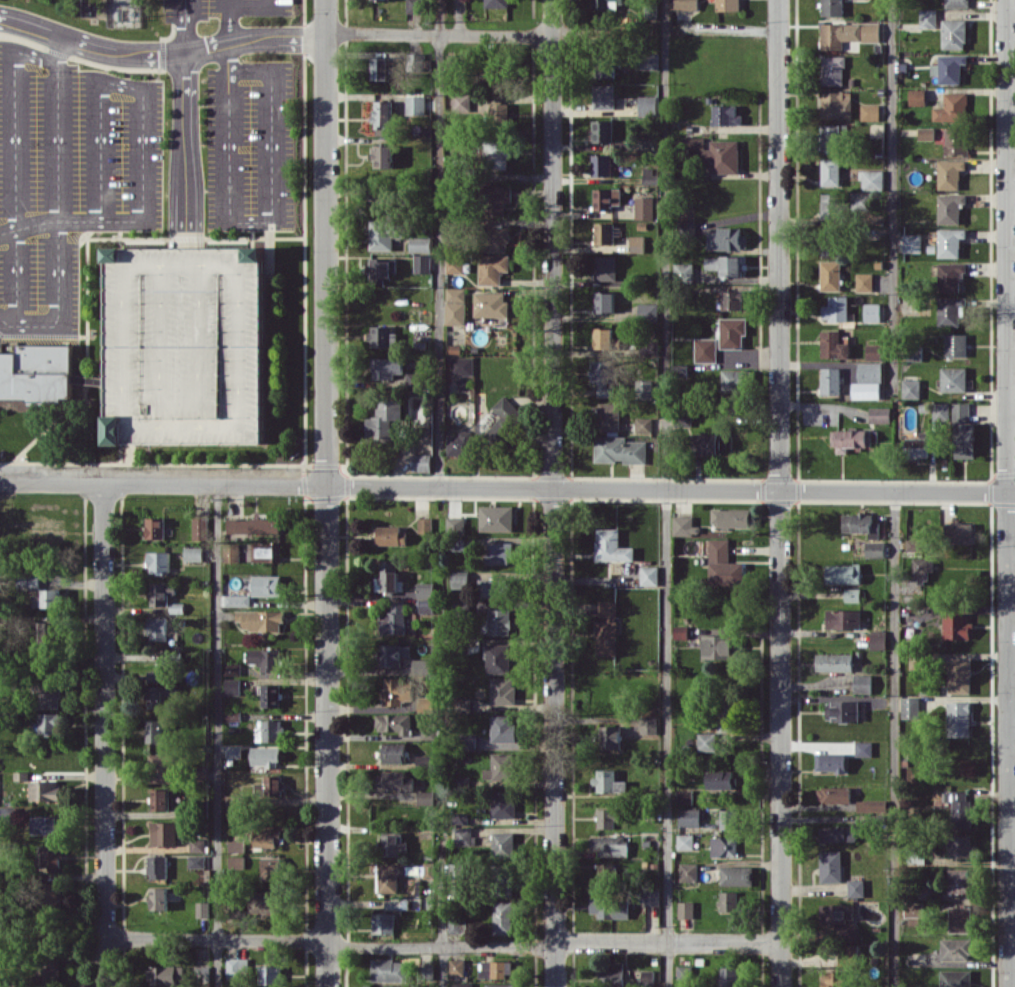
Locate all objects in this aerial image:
building: (496, 3)
building: (956, 3)
building: (606, 4)
building: (686, 4)
building: (727, 5)
road: (253, 6)
building: (414, 6)
building: (832, 7)
parking lot: (223, 8)
building: (928, 17)
road: (229, 21)
road: (185, 26)
building: (870, 32)
building: (953, 33)
road: (438, 34)
building: (840, 36)
road: (160, 53)
building: (646, 60)
road: (107, 66)
building: (604, 66)
building: (379, 68)
building: (949, 68)
building: (832, 69)
building: (495, 74)
road: (117, 83)
building: (603, 96)
building: (917, 96)
road: (195, 103)
building: (415, 104)
building: (461, 104)
building: (836, 104)
building: (647, 105)
building: (952, 107)
building: (498, 112)
building: (870, 112)
building: (382, 114)
building: (725, 114)
building: (602, 130)
building: (926, 133)
building: (831, 137)
building: (646, 140)
building: (955, 140)
building: (693, 142)
parking lot: (249, 144)
road: (186, 150)
building: (500, 153)
building: (383, 156)
building: (723, 156)
road: (14, 161)
building: (601, 165)
building: (830, 171)
building: (949, 173)
parking lot: (67, 176)
building: (650, 176)
road: (58, 179)
building: (872, 179)
road: (893, 196)
building: (498, 198)
building: (606, 198)
building: (381, 199)
building: (830, 205)
building: (644, 207)
building: (949, 207)
road: (70, 221)
road: (257, 221)
building: (604, 233)
building: (381, 234)
road: (118, 235)
road: (251, 235)
building: (496, 237)
road: (195, 238)
building: (727, 238)
road: (439, 242)
building: (829, 242)
building: (950, 242)
building: (636, 243)
building: (912, 243)
building: (420, 244)
building: (422, 263)
building: (454, 263)
building: (726, 264)
building: (605, 267)
building: (492, 268)
building: (382, 269)
building: (683, 270)
building: (830, 275)
building: (950, 276)
building: (864, 281)
building: (455, 293)
building: (732, 299)
building: (604, 301)
building: (490, 304)
building: (836, 308)
building: (950, 310)
building: (647, 311)
building: (455, 312)
building: (872, 312)
road: (3, 320)
road: (32, 323)
building: (732, 332)
road: (43, 335)
building: (382, 336)
building: (603, 337)
building: (955, 344)
building: (833, 345)
building: (182, 346)
parking lot: (182, 346)
road: (87, 348)
building: (651, 348)
building: (705, 350)
building: (874, 352)
building: (462, 365)
building: (386, 367)
building: (680, 371)
building: (869, 371)
building: (40, 374)
building: (603, 377)
building: (412, 379)
building: (953, 379)
building: (734, 380)
building: (830, 380)
building: (911, 388)
building: (643, 389)
building: (866, 390)
building: (416, 405)
building: (939, 411)
building: (880, 414)
building: (608, 416)
building: (383, 418)
building: (503, 420)
building: (644, 424)
building: (963, 431)
road: (37, 435)
building: (850, 439)
building: (460, 443)
building: (713, 443)
building: (918, 447)
building: (620, 449)
road: (119, 453)
road: (152, 462)
building: (421, 462)
road: (1, 479)
road: (507, 487)
road: (326, 493)
road: (553, 493)
road: (667, 493)
road: (780, 493)
road: (1008, 493)
building: (496, 517)
building: (730, 517)
building: (6, 518)
building: (861, 524)
building: (254, 525)
building: (425, 525)
building: (455, 525)
building: (684, 525)
building: (155, 527)
building: (199, 528)
building: (46, 530)
building: (958, 532)
building: (390, 535)
building: (914, 544)
building: (611, 546)
building: (875, 549)
building: (266, 551)
building: (500, 552)
building: (193, 553)
building: (159, 561)
building: (723, 564)
building: (921, 568)
building: (843, 573)
building: (649, 575)
building: (388, 577)
building: (459, 580)
building: (31, 581)
building: (266, 585)
building: (491, 587)
building: (425, 590)
building: (161, 593)
building: (852, 594)
building: (47, 598)
building: (241, 600)
building: (425, 605)
building: (260, 619)
building: (844, 619)
building: (393, 620)
building: (499, 621)
building: (956, 625)
building: (158, 628)
building: (607, 628)
building: (49, 632)
building: (680, 632)
building: (718, 646)
building: (392, 654)
building: (265, 658)
building: (497, 658)
building: (834, 662)
building: (421, 665)
building: (232, 669)
building: (155, 675)
building: (959, 675)
building: (862, 683)
building: (232, 686)
building: (502, 690)
building: (396, 691)
building: (49, 694)
building: (269, 694)
building: (156, 696)
building: (910, 707)
building: (842, 711)
building: (726, 716)
building: (959, 718)
building: (394, 722)
building: (48, 723)
building: (648, 724)
building: (503, 728)
building: (155, 730)
building: (269, 730)
building: (428, 733)
road: (104, 735)
road: (217, 735)
building: (610, 736)
road: (894, 739)
building: (469, 741)
building: (706, 741)
building: (863, 748)
building: (233, 751)
building: (393, 752)
building: (265, 756)
building: (830, 761)
building: (161, 767)
building: (500, 767)
building: (720, 779)
building: (395, 780)
building: (608, 781)
building: (270, 785)
building: (44, 790)
building: (833, 794)
building: (684, 796)
building: (425, 797)
building: (160, 799)
building: (231, 804)
building: (503, 804)
building: (872, 805)
building: (959, 808)
building: (689, 817)
building: (606, 818)
building: (728, 819)
building: (44, 824)
building: (163, 833)
building: (837, 833)
building: (463, 836)
building: (267, 838)
building: (685, 841)
building: (197, 844)
building: (503, 844)
building: (393, 845)
building: (609, 845)
building: (960, 845)
building: (236, 846)
building: (724, 846)
building: (51, 856)
building: (196, 861)
building: (236, 861)
building: (831, 866)
building: (157, 867)
building: (271, 867)
building: (428, 869)
building: (607, 872)
building: (688, 872)
building: (737, 875)
building: (390, 876)
building: (959, 880)
building: (504, 882)
building: (856, 887)
building: (54, 895)
building: (651, 896)
building: (159, 898)
building: (266, 901)
building: (728, 901)
building: (393, 904)
building: (610, 907)
building: (202, 909)
building: (686, 909)
building: (836, 913)
building: (914, 913)
building: (503, 917)
building: (960, 919)
building: (383, 923)
building: (457, 925)
road: (442, 930)
building: (846, 932)
road: (443, 947)
building: (955, 949)
building: (457, 966)
building: (237, 968)
building: (496, 968)
building: (51, 969)
building: (389, 970)
building: (427, 972)
building: (166, 974)
building: (610, 974)
building: (270, 975)
building: (728, 976)
building: (647, 977)
building: (832, 978)
building: (956, 978)
building: (463, 984)
building: (500, 985)
building: (378, 986)

